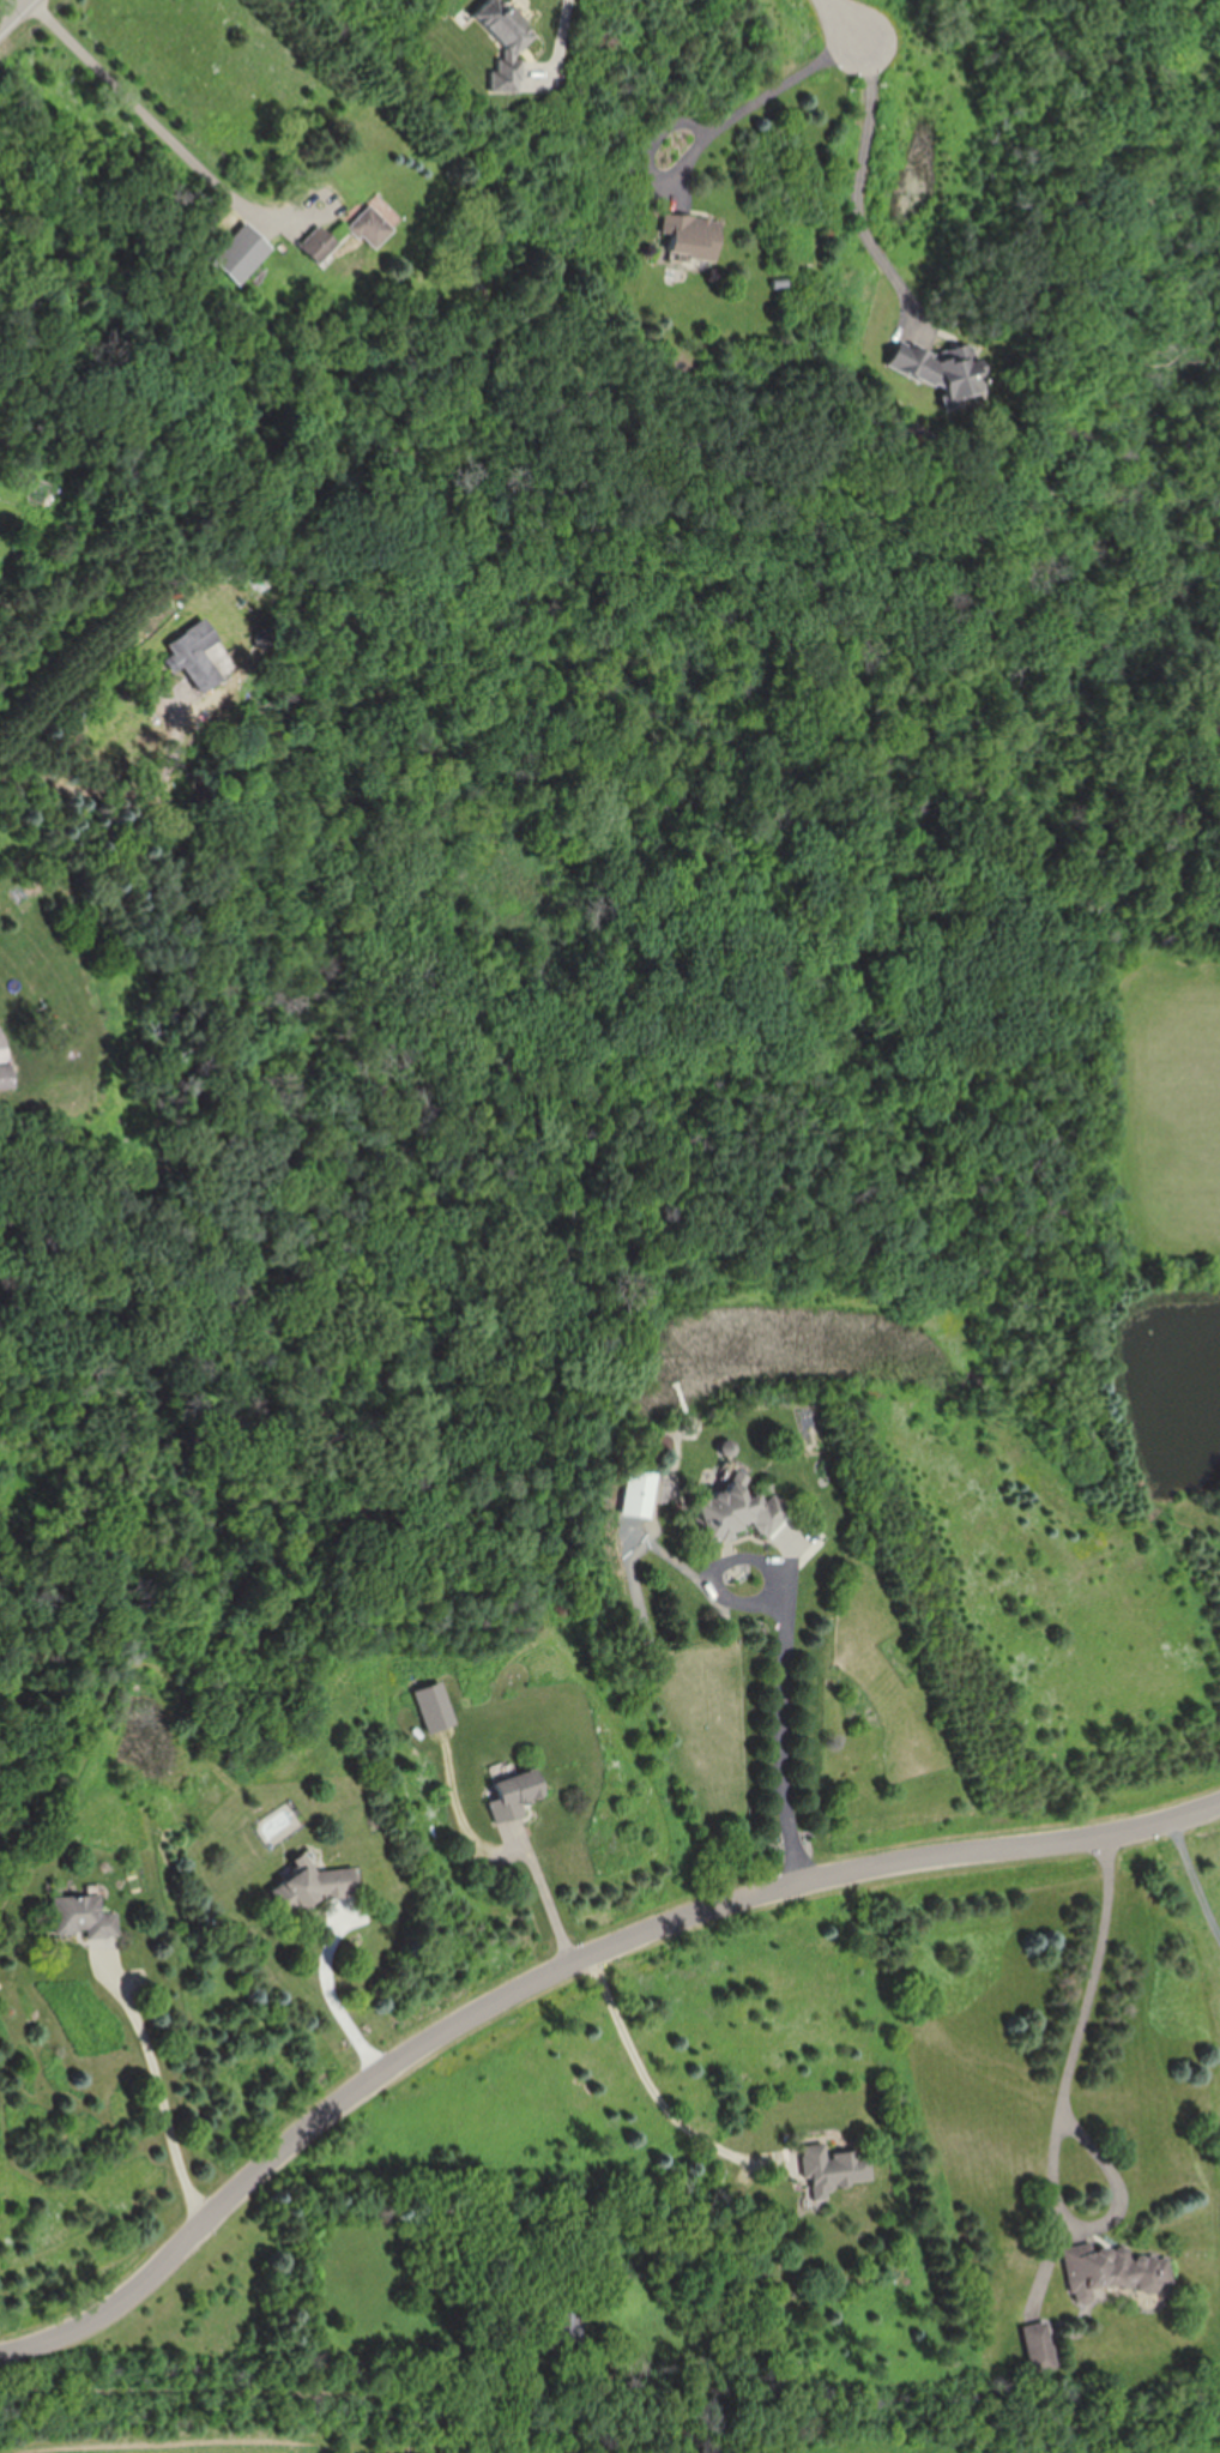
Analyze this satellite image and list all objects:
road: (13, 13)
road: (844, 22)
building: (508, 42)
road: (761, 106)
road: (147, 122)
road: (868, 189)
building: (373, 227)
building: (695, 235)
building: (319, 245)
building: (241, 253)
building: (944, 369)
building: (195, 656)
road: (4, 1060)
building: (7, 1077)
building: (639, 1491)
building: (739, 1507)
building: (430, 1708)
road: (780, 1730)
building: (515, 1791)
road: (1196, 1872)
building: (318, 1884)
road: (550, 1899)
building: (83, 1917)
road: (1098, 1970)
road: (560, 1972)
road: (332, 1993)
road: (163, 2086)
road: (660, 2103)
building: (833, 2169)
road: (1112, 2180)
building: (1112, 2271)
building: (567, 2330)
road: (204, 2388)

